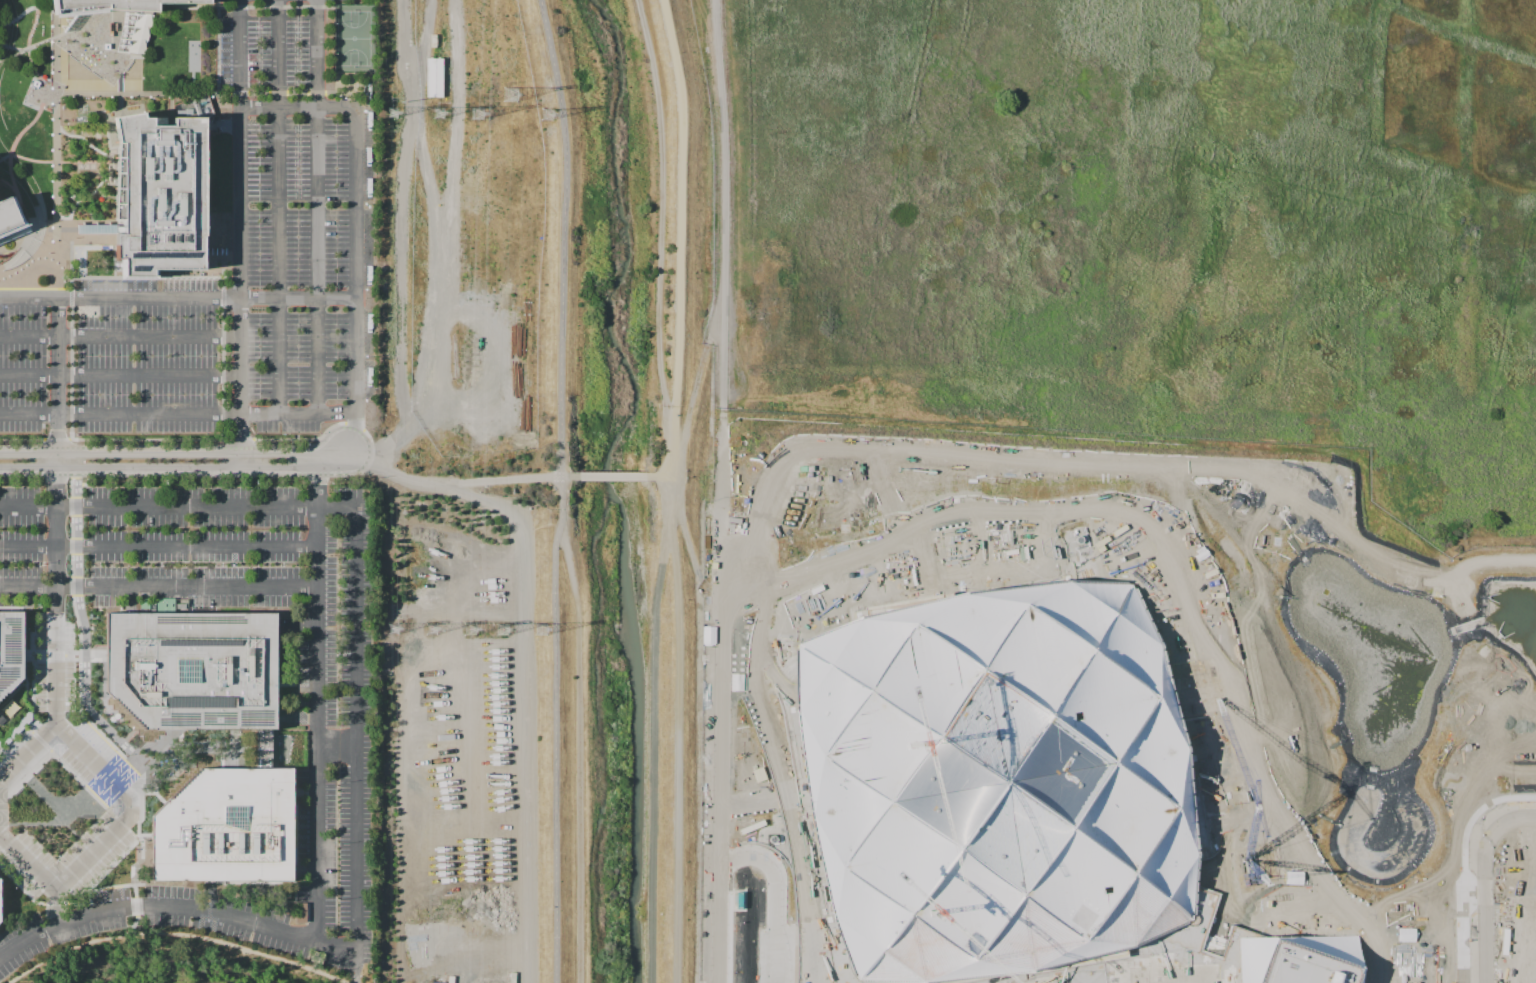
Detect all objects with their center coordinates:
building: (117, 4)
road: (277, 7)
road: (47, 8)
road: (219, 19)
road: (29, 37)
park: (355, 38)
road: (56, 40)
road: (28, 49)
road: (79, 61)
road: (121, 84)
road: (65, 85)
road: (293, 93)
road: (140, 94)
power tower: (510, 94)
road: (121, 100)
road: (233, 104)
road: (171, 110)
power tower: (391, 111)
power tower: (437, 112)
power tower: (476, 112)
power tower: (547, 113)
road: (115, 117)
road: (455, 118)
road: (86, 141)
road: (12, 148)
road: (241, 148)
street lamp: (298, 157)
street lamp: (337, 157)
road: (57, 162)
road: (57, 163)
road: (11, 186)
street lamp: (259, 190)
street lamp: (298, 190)
street lamp: (336, 190)
building: (160, 194)
road: (86, 196)
road: (317, 206)
road: (279, 207)
building: (8, 214)
parking lot: (297, 224)
street lamp: (260, 226)
street lamp: (298, 226)
street lamp: (337, 226)
building: (96, 228)
building: (14, 232)
road: (662, 236)
road: (726, 238)
road: (113, 246)
road: (18, 250)
road: (442, 252)
street lamp: (336, 258)
street lamp: (259, 259)
street lamp: (298, 259)
road: (115, 262)
road: (118, 262)
road: (133, 278)
road: (230, 279)
street lamp: (298, 288)
street lamp: (337, 288)
street lamp: (260, 289)
road: (149, 297)
road: (299, 297)
road: (29, 298)
street lamp: (260, 324)
street lamp: (298, 324)
street lamp: (337, 324)
road: (58, 330)
road: (120, 336)
road: (72, 350)
street lamp: (259, 357)
street lamp: (298, 357)
street lamp: (337, 357)
parking lot: (121, 360)
road: (224, 360)
road: (121, 374)
road: (697, 377)
road: (357, 378)
road: (242, 382)
street lamp: (298, 393)
street lamp: (337, 393)
street lamp: (260, 394)
road: (353, 428)
road: (315, 439)
road: (112, 440)
road: (158, 451)
road: (332, 459)
road: (58, 460)
road: (186, 468)
road: (28, 469)
road: (662, 475)
road: (615, 476)
road: (458, 483)
road: (559, 490)
road: (674, 490)
road: (157, 546)
road: (690, 561)
street lamp: (37, 564)
street lamp: (95, 565)
street lamp: (159, 565)
street lamp: (220, 565)
street lamp: (281, 565)
road: (1477, 566)
road: (357, 571)
road: (157, 585)
road: (57, 597)
road: (1187, 624)
power tower: (394, 628)
power tower: (472, 629)
power tower: (432, 630)
power tower: (503, 630)
power tower: (542, 630)
building: (11, 651)
road: (91, 652)
road: (56, 656)
road: (28, 659)
building: (190, 670)
building: (1534, 708)
road: (715, 729)
building: (11, 732)
parking lot: (57, 732)
road: (232, 738)
road: (1, 748)
road: (336, 748)
building: (1517, 748)
building: (262, 750)
road: (27, 754)
building: (1530, 758)
road: (14, 766)
road: (200, 770)
road: (90, 773)
street lamp: (338, 783)
building: (996, 784)
road: (132, 793)
building: (1380, 795)
road: (161, 798)
road: (133, 806)
building: (1234, 809)
building: (222, 829)
road: (140, 830)
road: (144, 831)
road: (32, 837)
road: (22, 841)
road: (90, 841)
street lamp: (338, 844)
building: (1528, 849)
parking garage: (1528, 849)
road: (28, 861)
road: (316, 867)
road: (1483, 881)
road: (129, 890)
road: (124, 900)
street lamp: (338, 900)
road: (57, 907)
road: (174, 933)
building: (1520, 933)
parking garage: (1520, 933)
building: (1289, 957)
road: (347, 966)
building: (1520, 979)
parking garage: (1520, 979)

